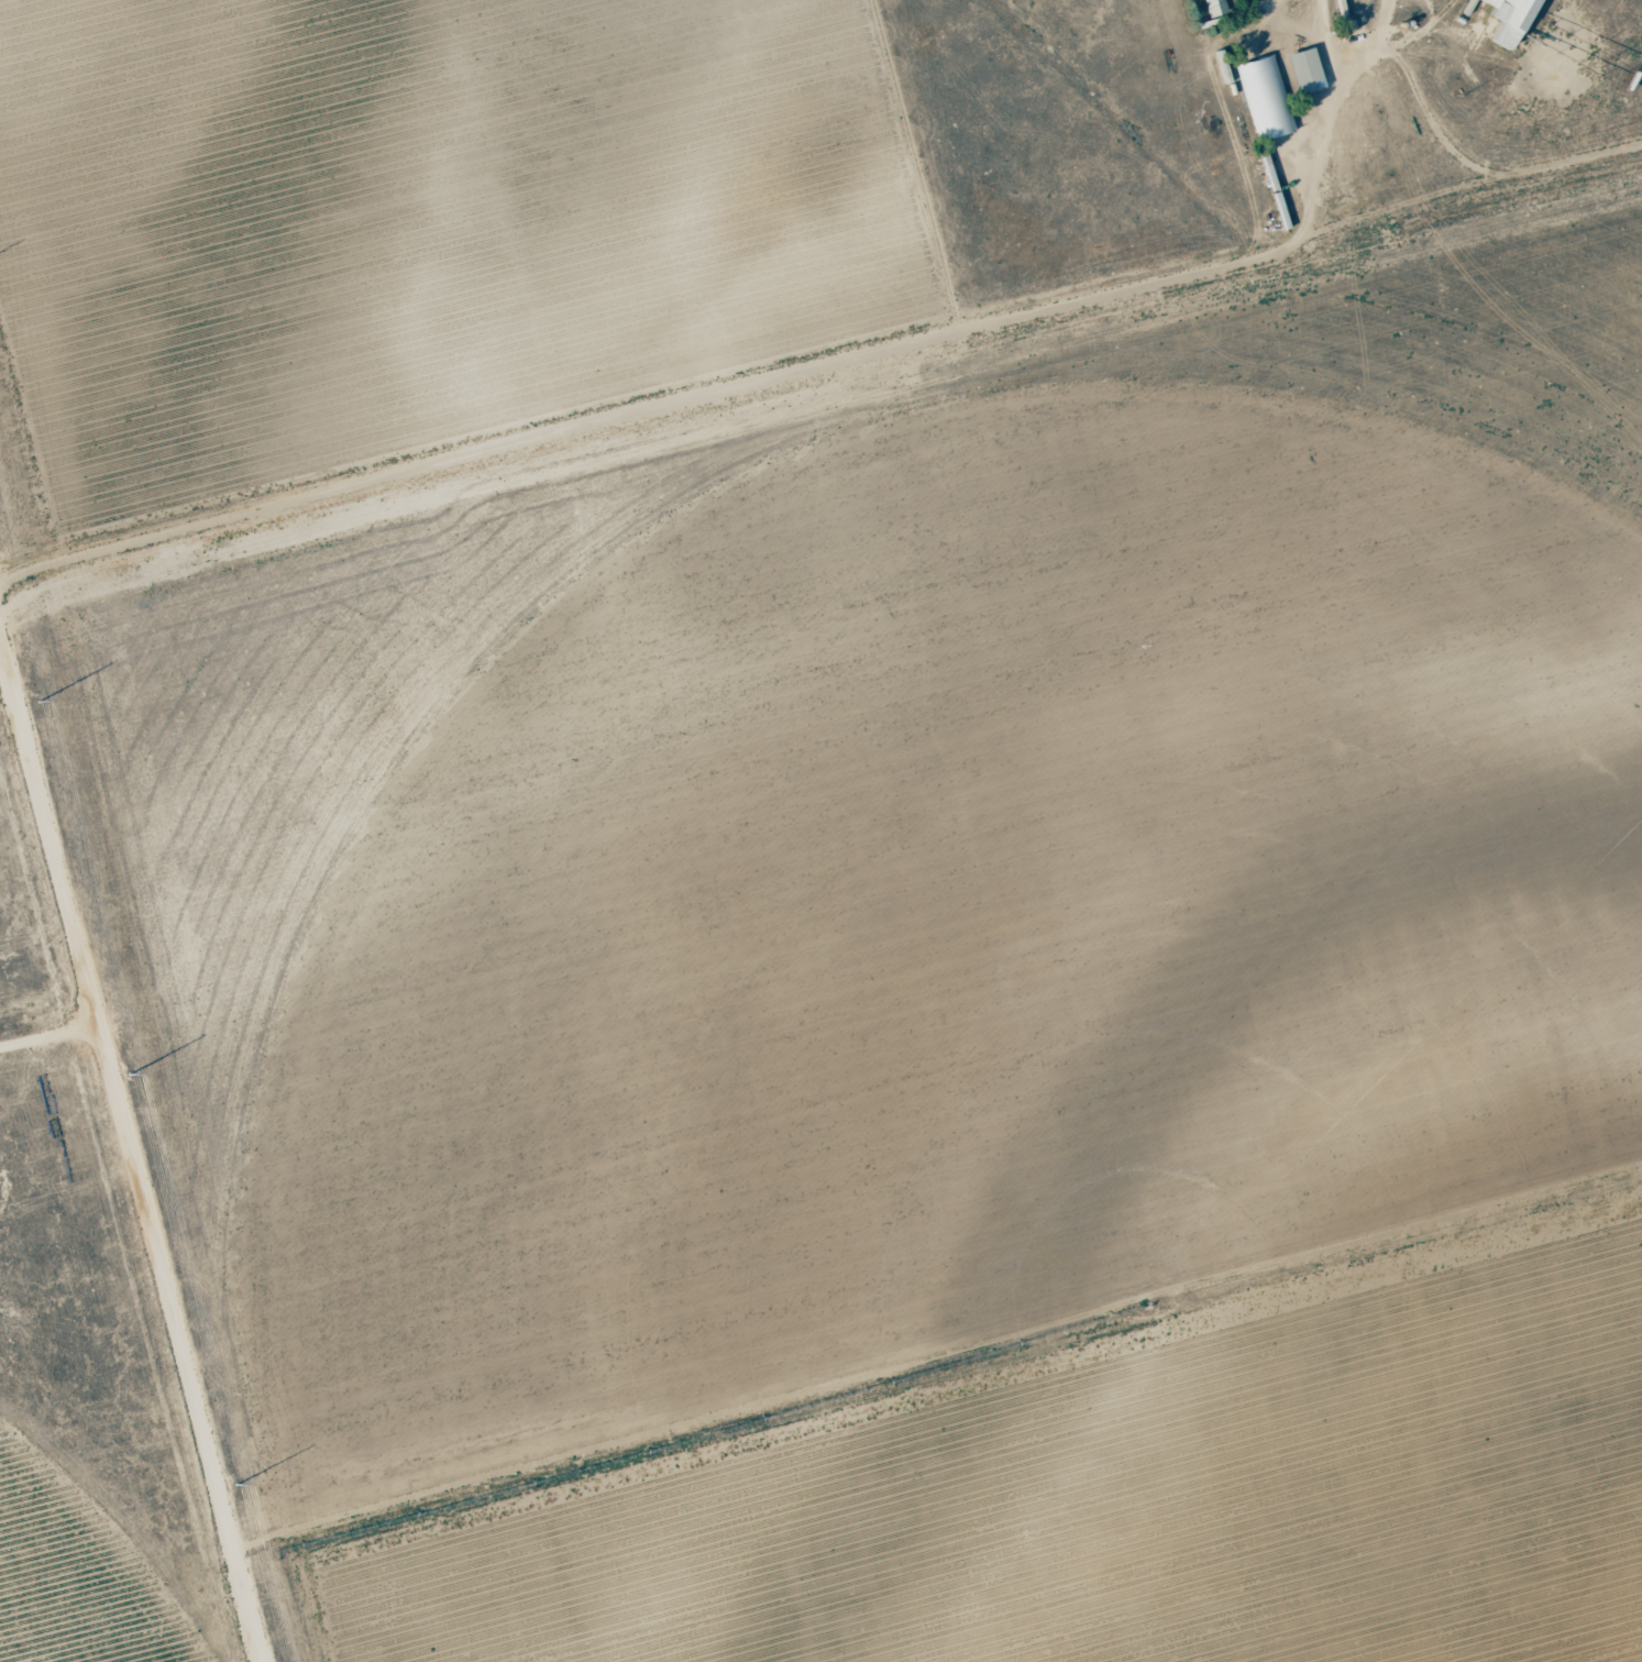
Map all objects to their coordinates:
building: (1213, 7)
building: (1301, 70)
building: (1265, 96)
power tower: (31, 691)
power tower: (123, 1045)
road: (131, 1159)
power tower: (211, 1398)

